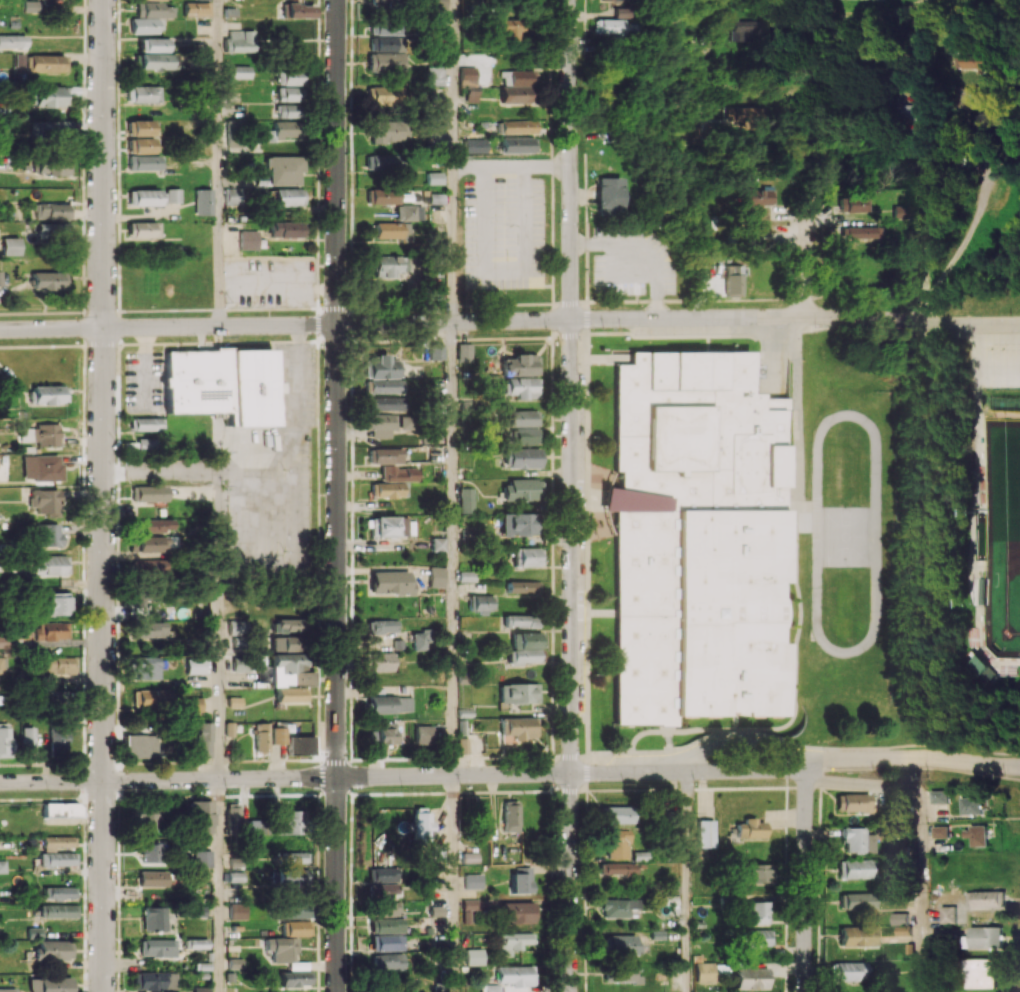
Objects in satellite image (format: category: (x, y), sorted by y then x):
building: (153, 0)
building: (203, 0)
building: (621, 0)
building: (384, 1)
building: (39, 4)
building: (431, 4)
building: (197, 9)
building: (153, 10)
building: (299, 10)
road: (880, 12)
building: (146, 25)
building: (609, 26)
building: (386, 29)
building: (510, 30)
building: (753, 30)
building: (12, 41)
building: (240, 41)
building: (386, 44)
building: (155, 45)
road: (688, 55)
building: (155, 61)
building: (386, 62)
building: (974, 62)
building: (47, 63)
building: (241, 71)
building: (434, 74)
building: (466, 76)
building: (289, 77)
building: (516, 85)
building: (143, 94)
building: (290, 94)
building: (386, 95)
building: (51, 96)
building: (972, 98)
building: (288, 110)
building: (907, 110)
building: (518, 126)
building: (139, 128)
building: (49, 129)
building: (286, 130)
building: (390, 131)
building: (703, 131)
building: (141, 145)
building: (474, 145)
building: (518, 145)
road: (455, 160)
road: (336, 161)
building: (144, 162)
building: (385, 162)
road: (221, 163)
building: (52, 164)
road: (512, 164)
building: (285, 170)
building: (173, 195)
building: (609, 195)
building: (233, 196)
building: (383, 196)
building: (143, 197)
building: (289, 197)
building: (760, 197)
building: (203, 202)
building: (851, 203)
building: (52, 211)
building: (410, 212)
road: (927, 214)
building: (142, 229)
building: (287, 229)
building: (396, 231)
building: (53, 232)
building: (856, 232)
building: (249, 239)
building: (9, 245)
road: (960, 248)
building: (390, 265)
road: (805, 267)
road: (502, 268)
building: (47, 280)
building: (732, 281)
road: (278, 287)
road: (510, 320)
building: (436, 351)
building: (464, 352)
parking lot: (990, 359)
building: (519, 365)
building: (382, 367)
building: (221, 384)
building: (385, 386)
building: (521, 387)
building: (47, 394)
building: (388, 403)
building: (521, 418)
building: (147, 424)
building: (386, 424)
building: (41, 435)
building: (524, 436)
building: (144, 444)
building: (386, 455)
building: (521, 458)
building: (46, 467)
road: (206, 472)
building: (400, 473)
building: (520, 489)
building: (387, 490)
building: (148, 493)
road: (103, 496)
road: (570, 496)
building: (467, 500)
building: (44, 501)
building: (517, 524)
building: (152, 525)
building: (389, 526)
park: (1000, 533)
building: (47, 534)
park: (845, 537)
park: (964, 541)
building: (698, 542)
building: (149, 543)
building: (438, 544)
road: (454, 548)
building: (526, 556)
building: (49, 565)
building: (152, 566)
building: (437, 576)
building: (391, 582)
building: (523, 588)
building: (140, 598)
building: (482, 603)
building: (53, 604)
building: (520, 620)
building: (290, 625)
building: (382, 626)
building: (151, 629)
building: (239, 629)
building: (50, 631)
building: (421, 640)
building: (289, 643)
building: (524, 647)
road: (336, 658)
building: (381, 661)
building: (241, 663)
building: (3, 664)
building: (57, 665)
building: (195, 665)
building: (146, 667)
building: (291, 669)
building: (978, 669)
road: (221, 672)
building: (518, 693)
building: (291, 694)
building: (151, 698)
building: (234, 701)
building: (193, 704)
building: (390, 704)
building: (518, 727)
building: (383, 734)
building: (423, 734)
building: (278, 735)
building: (262, 737)
building: (58, 738)
building: (203, 739)
building: (5, 740)
building: (28, 741)
building: (141, 745)
building: (299, 745)
road: (511, 774)
building: (941, 796)
building: (851, 802)
building: (972, 805)
building: (61, 809)
building: (618, 814)
building: (232, 816)
building: (509, 816)
building: (201, 817)
building: (150, 818)
building: (481, 822)
building: (281, 823)
building: (422, 825)
building: (750, 828)
building: (941, 831)
road: (922, 832)
building: (705, 833)
building: (977, 835)
building: (855, 839)
building: (58, 842)
building: (618, 844)
building: (150, 851)
building: (437, 852)
building: (295, 857)
building: (202, 858)
building: (57, 859)
building: (2, 866)
building: (618, 868)
building: (854, 869)
building: (755, 873)
building: (383, 874)
building: (296, 877)
building: (153, 878)
building: (520, 879)
building: (472, 881)
road: (691, 881)
road: (804, 881)
road: (454, 883)
road: (222, 885)
building: (385, 889)
building: (58, 892)
building: (987, 898)
building: (857, 902)
building: (619, 907)
building: (387, 908)
building: (57, 911)
building: (237, 911)
building: (295, 911)
building: (467, 911)
building: (517, 912)
building: (948, 914)
building: (436, 915)
building: (154, 918)
building: (387, 925)
building: (298, 928)
building: (34, 932)
building: (858, 936)
building: (756, 937)
building: (984, 937)
building: (386, 942)
building: (516, 942)
building: (196, 943)
building: (622, 944)
building: (158, 947)
building: (52, 949)
building: (282, 950)
building: (473, 956)
building: (386, 961)
building: (234, 970)
building: (848, 971)
building: (704, 972)
building: (982, 973)
building: (621, 974)
building: (516, 975)
building: (295, 978)
building: (750, 978)
building: (152, 980)
building: (54, 984)
building: (492, 988)
building: (202, 989)
building: (7, 990)

